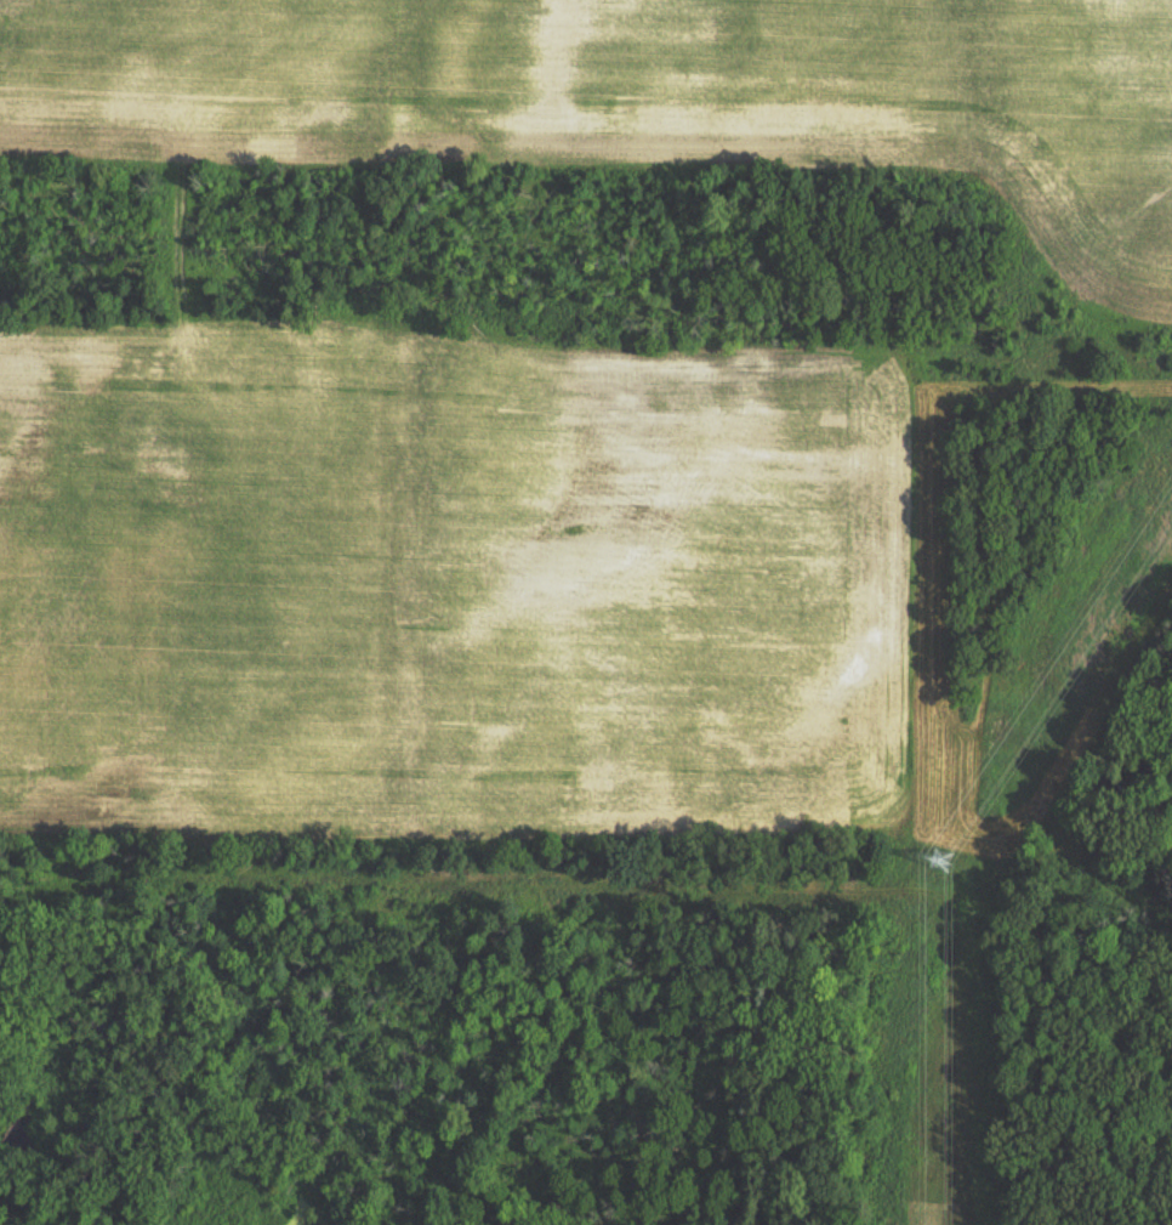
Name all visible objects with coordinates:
power tower: (935, 857)

